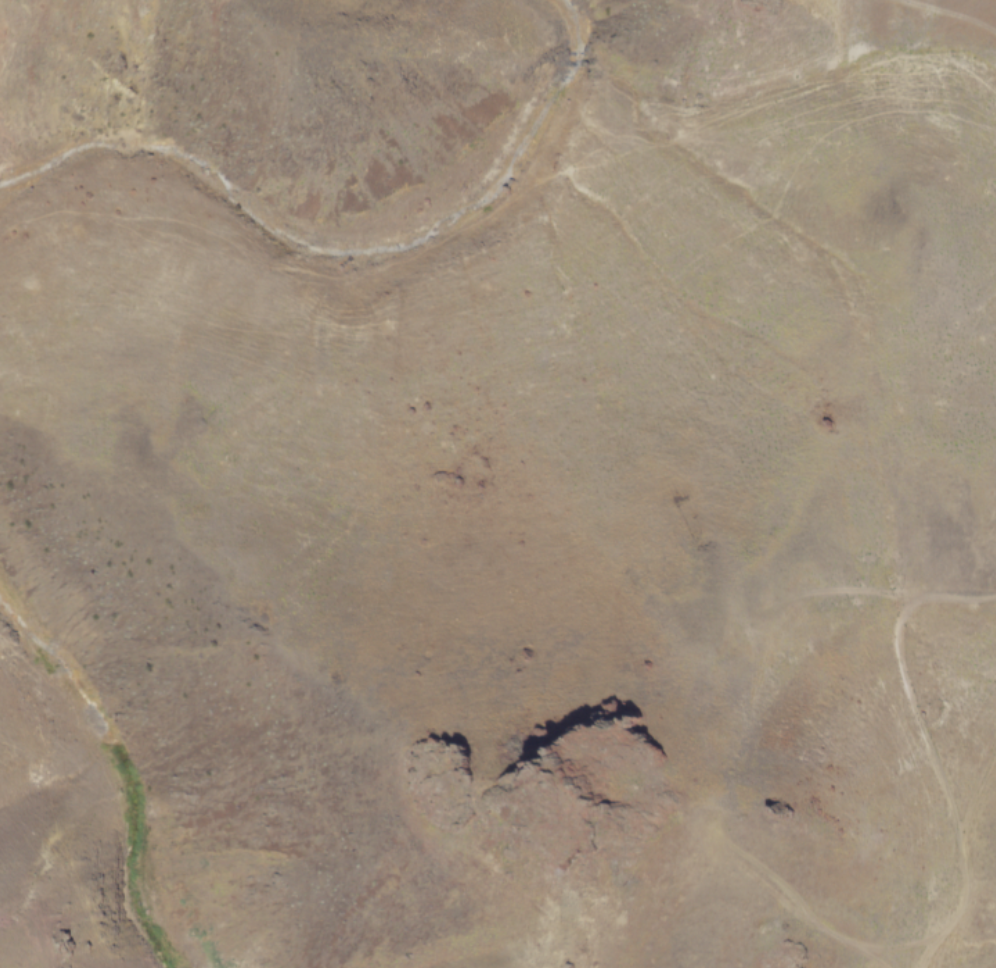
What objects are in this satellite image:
road: (947, 13)
road: (813, 589)
road: (905, 675)
road: (964, 859)
road: (802, 907)

